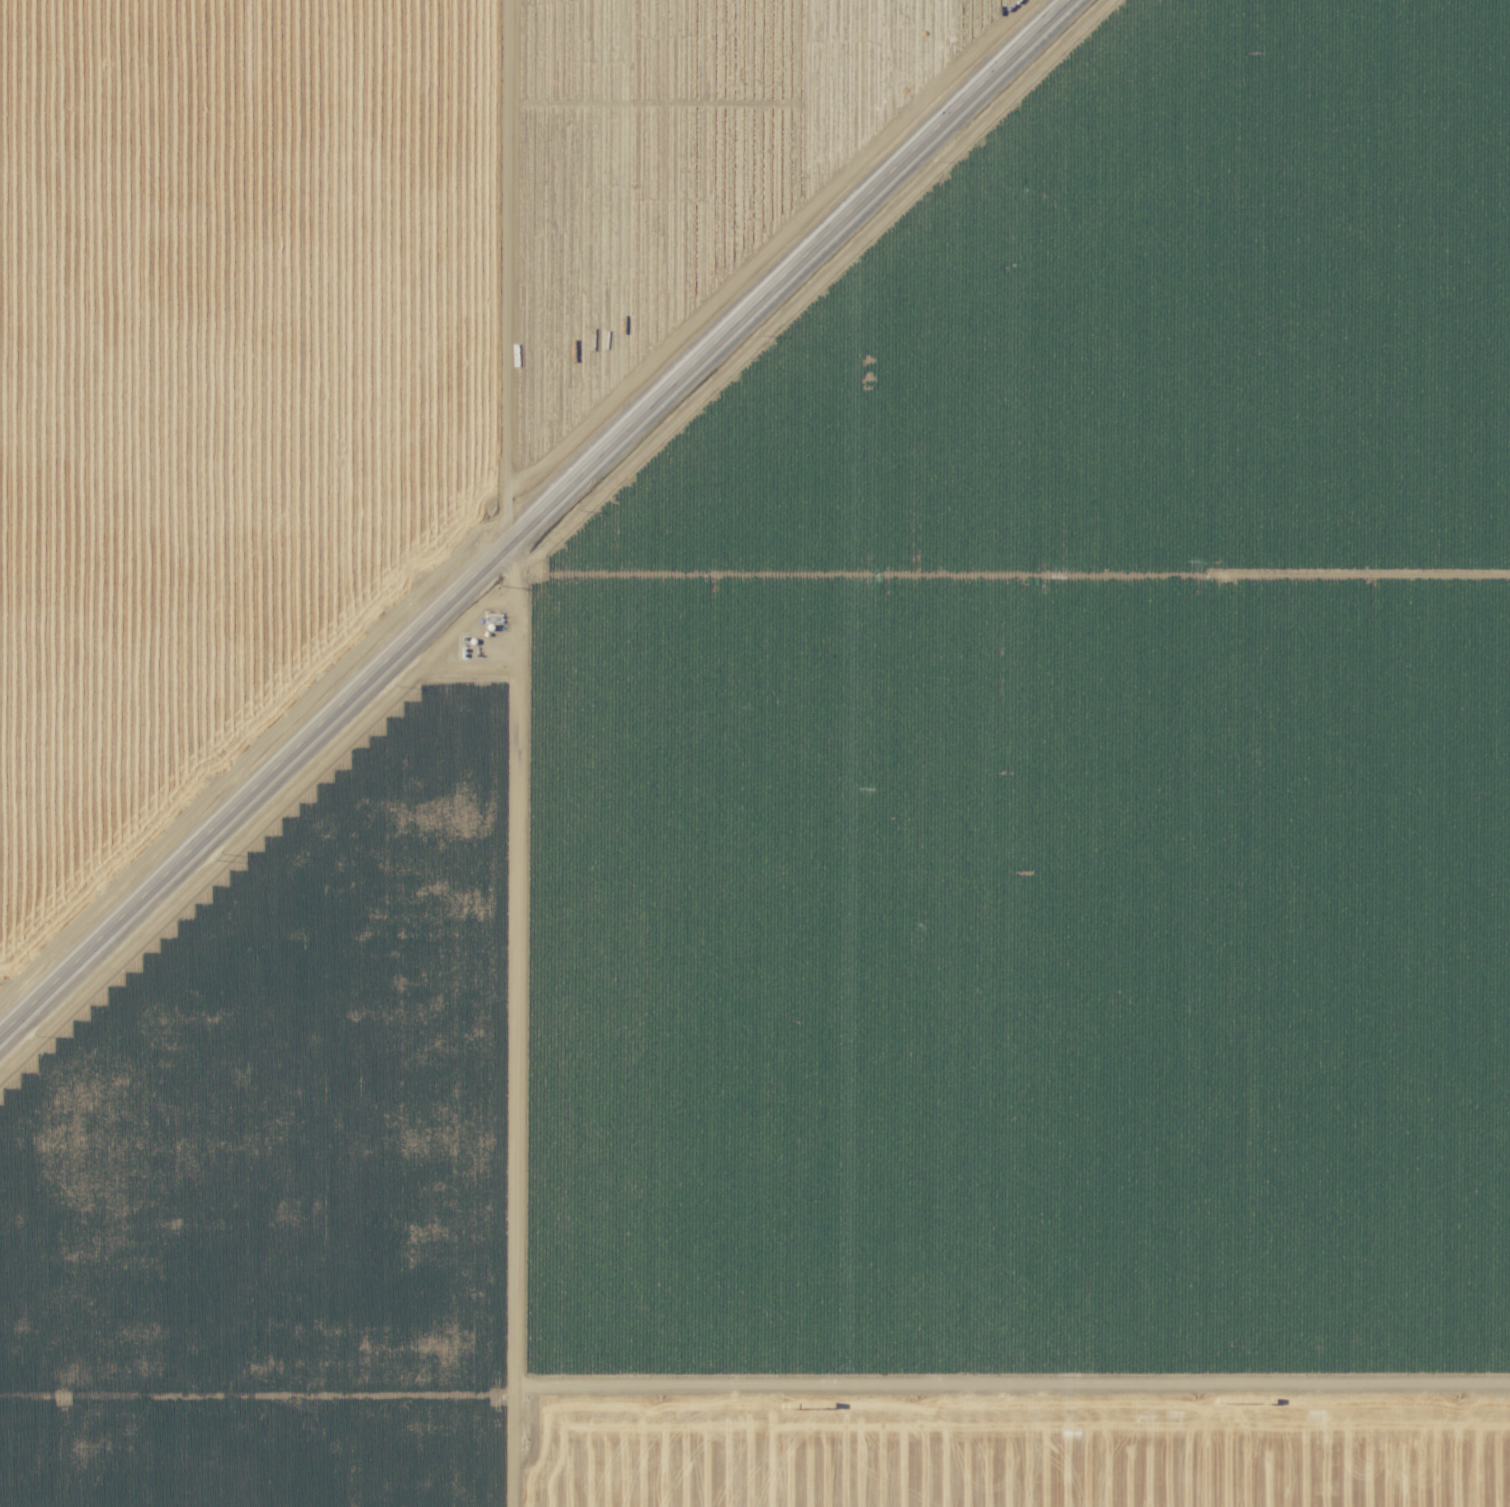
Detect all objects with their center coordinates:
road: (543, 525)

